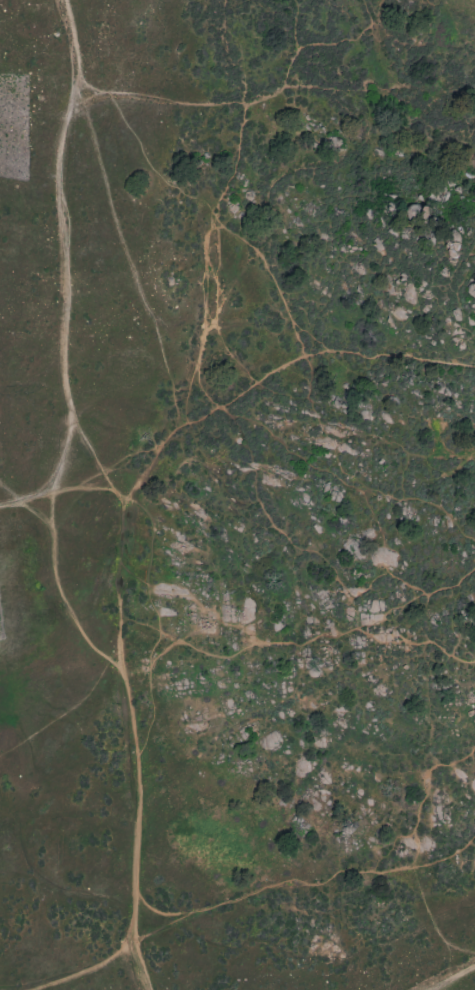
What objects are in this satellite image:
road: (230, 243)
road: (192, 382)
road: (122, 505)
road: (457, 979)

